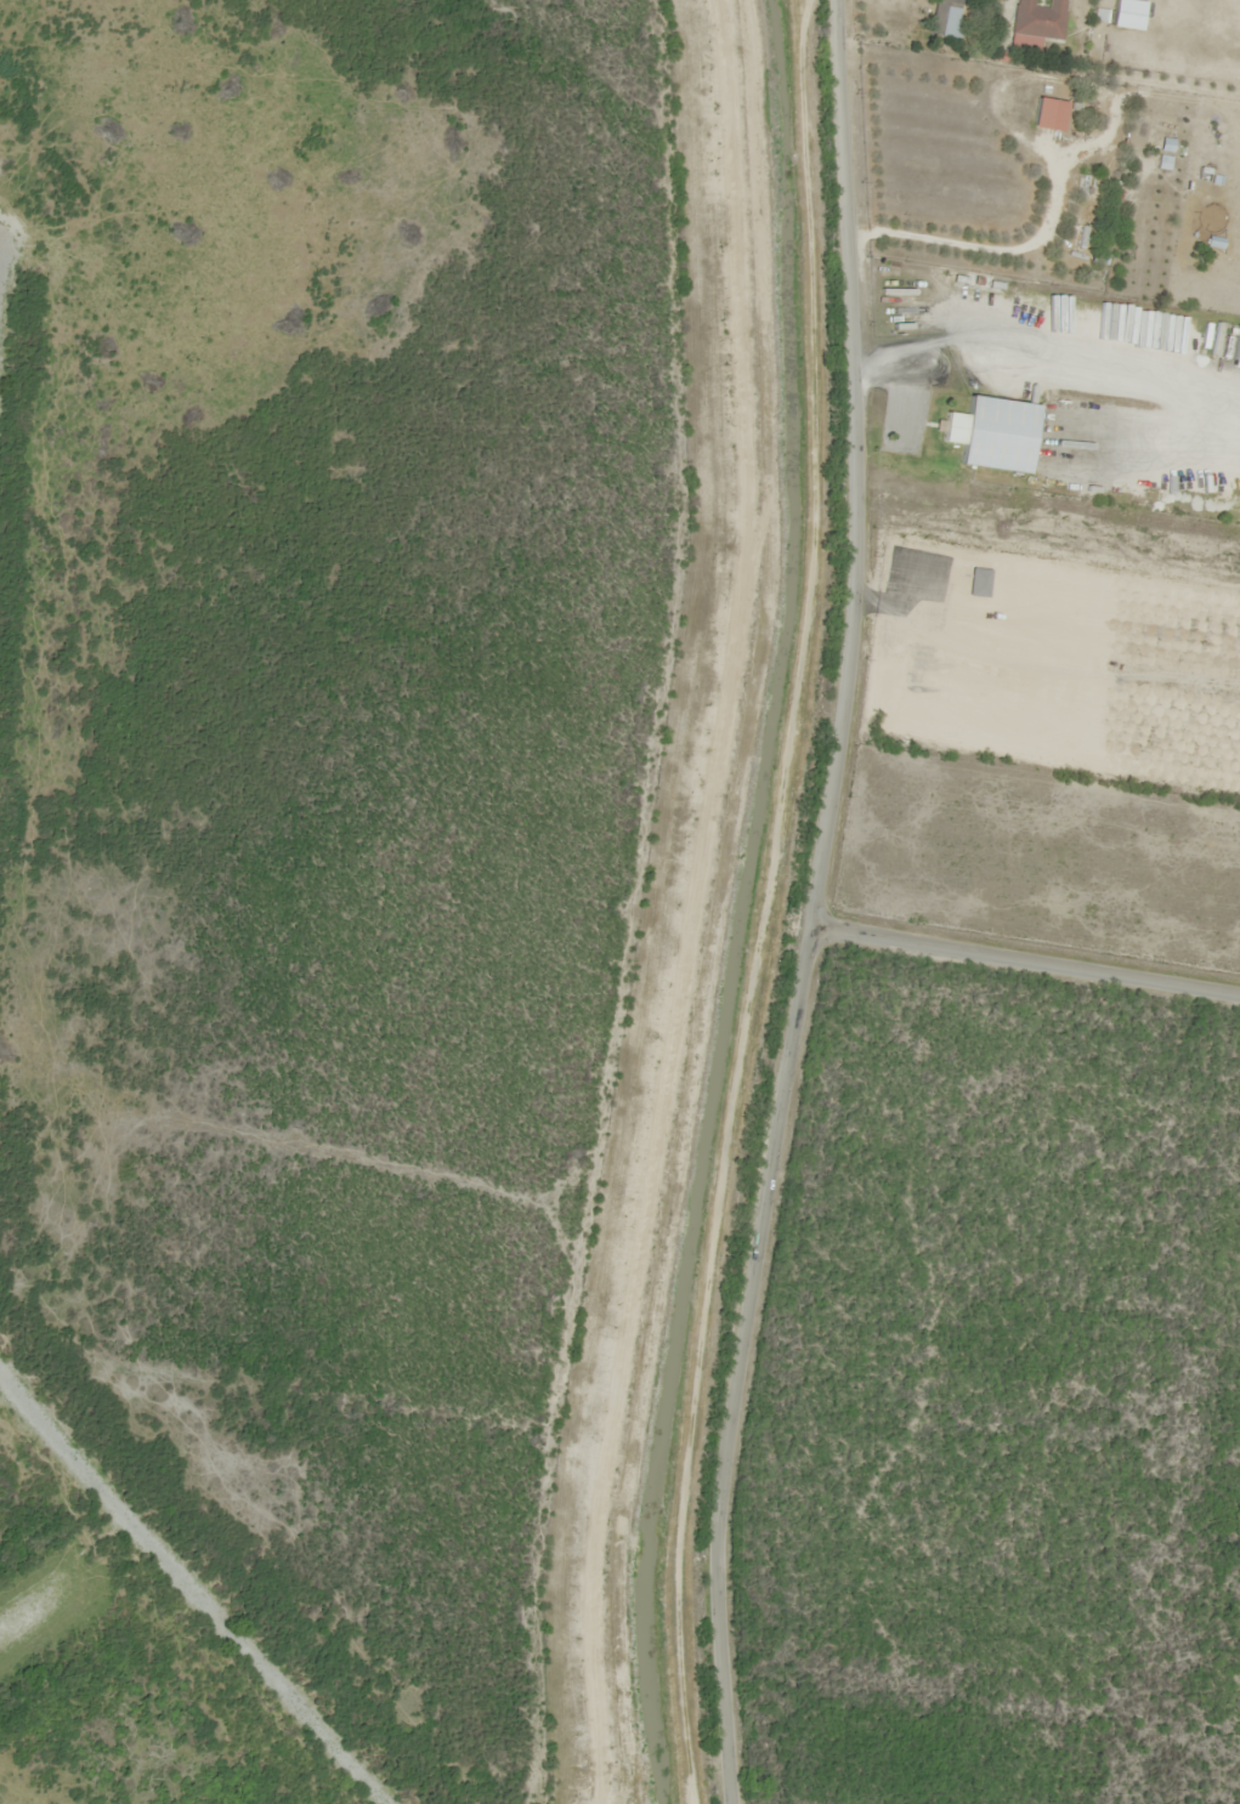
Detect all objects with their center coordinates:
building: (1125, 15)
building: (947, 18)
building: (1035, 23)
building: (1046, 114)
road: (814, 903)
road: (1023, 970)

